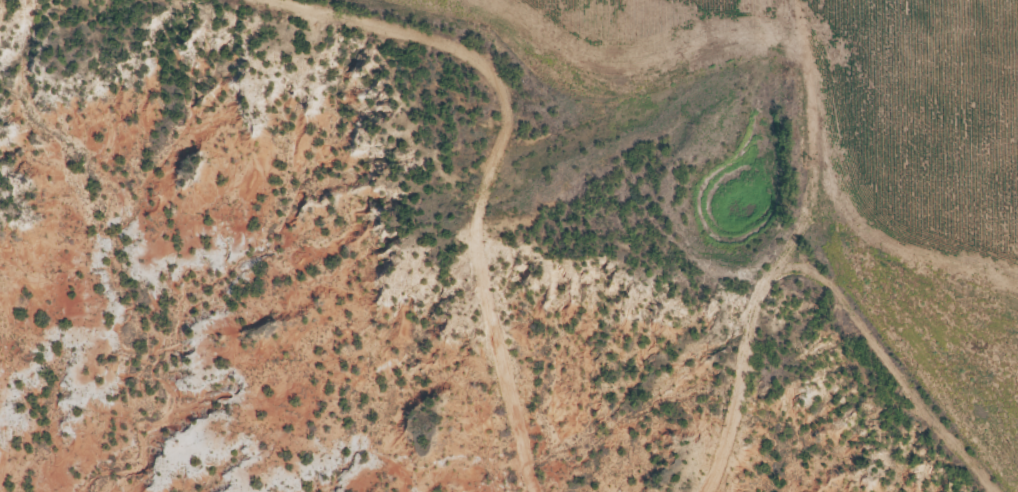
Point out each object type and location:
road: (769, 247)

